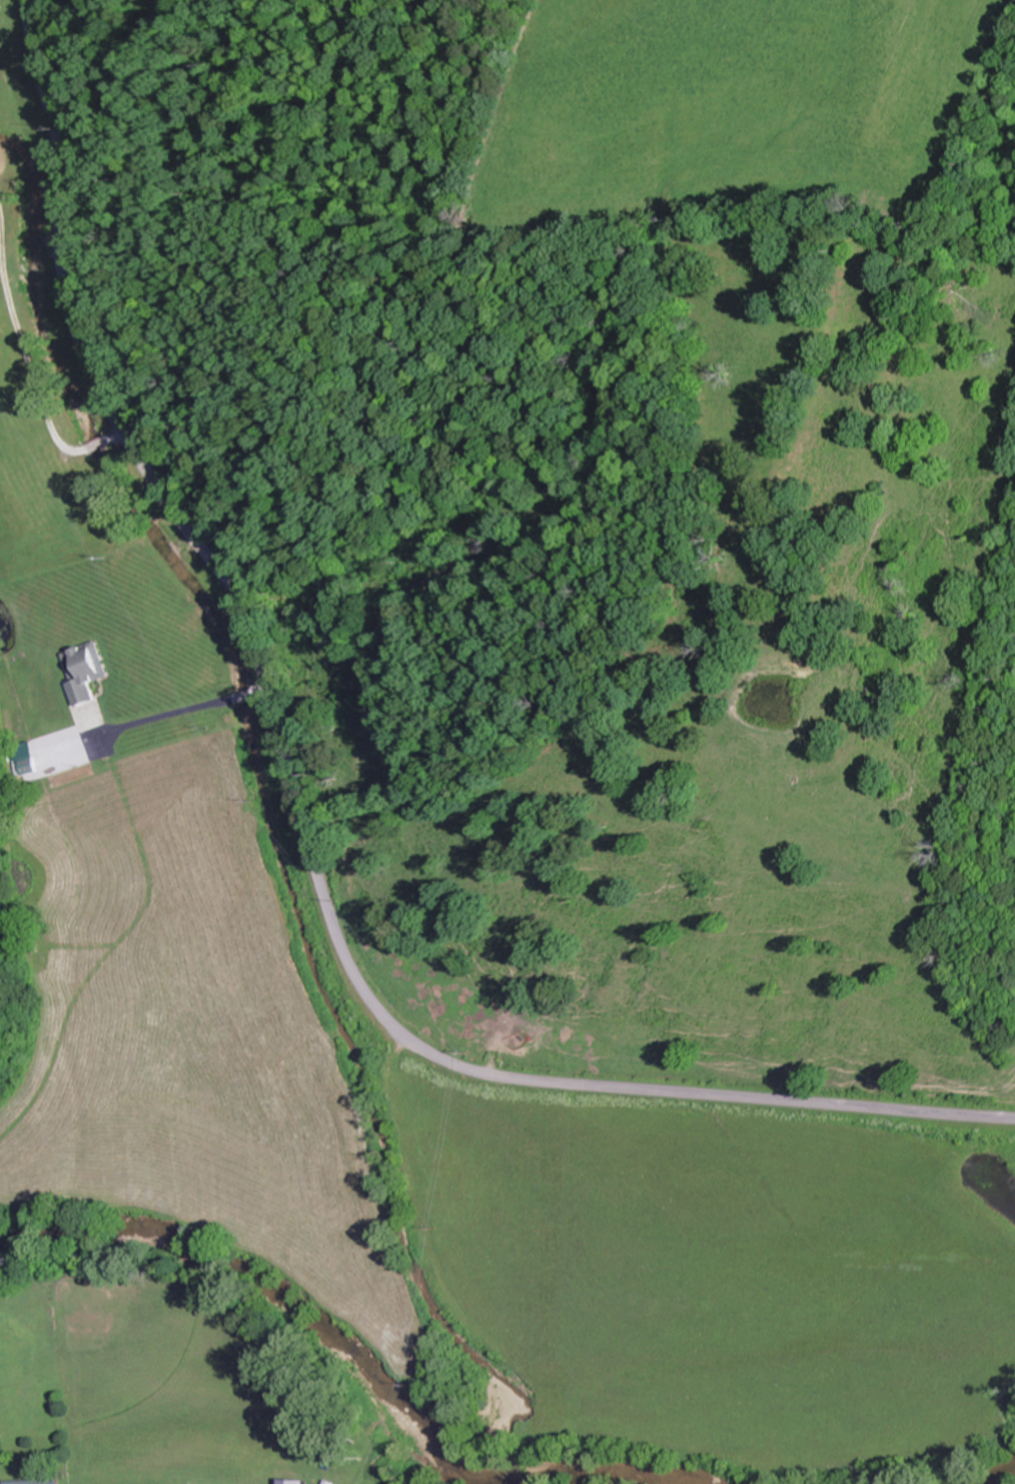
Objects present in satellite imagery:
road: (23, 231)
building: (83, 670)
building: (25, 765)
road: (299, 811)
building: (286, 1075)
river: (346, 1337)
river: (999, 1479)
building: (32, 1481)
building: (293, 1482)
building: (329, 1483)

